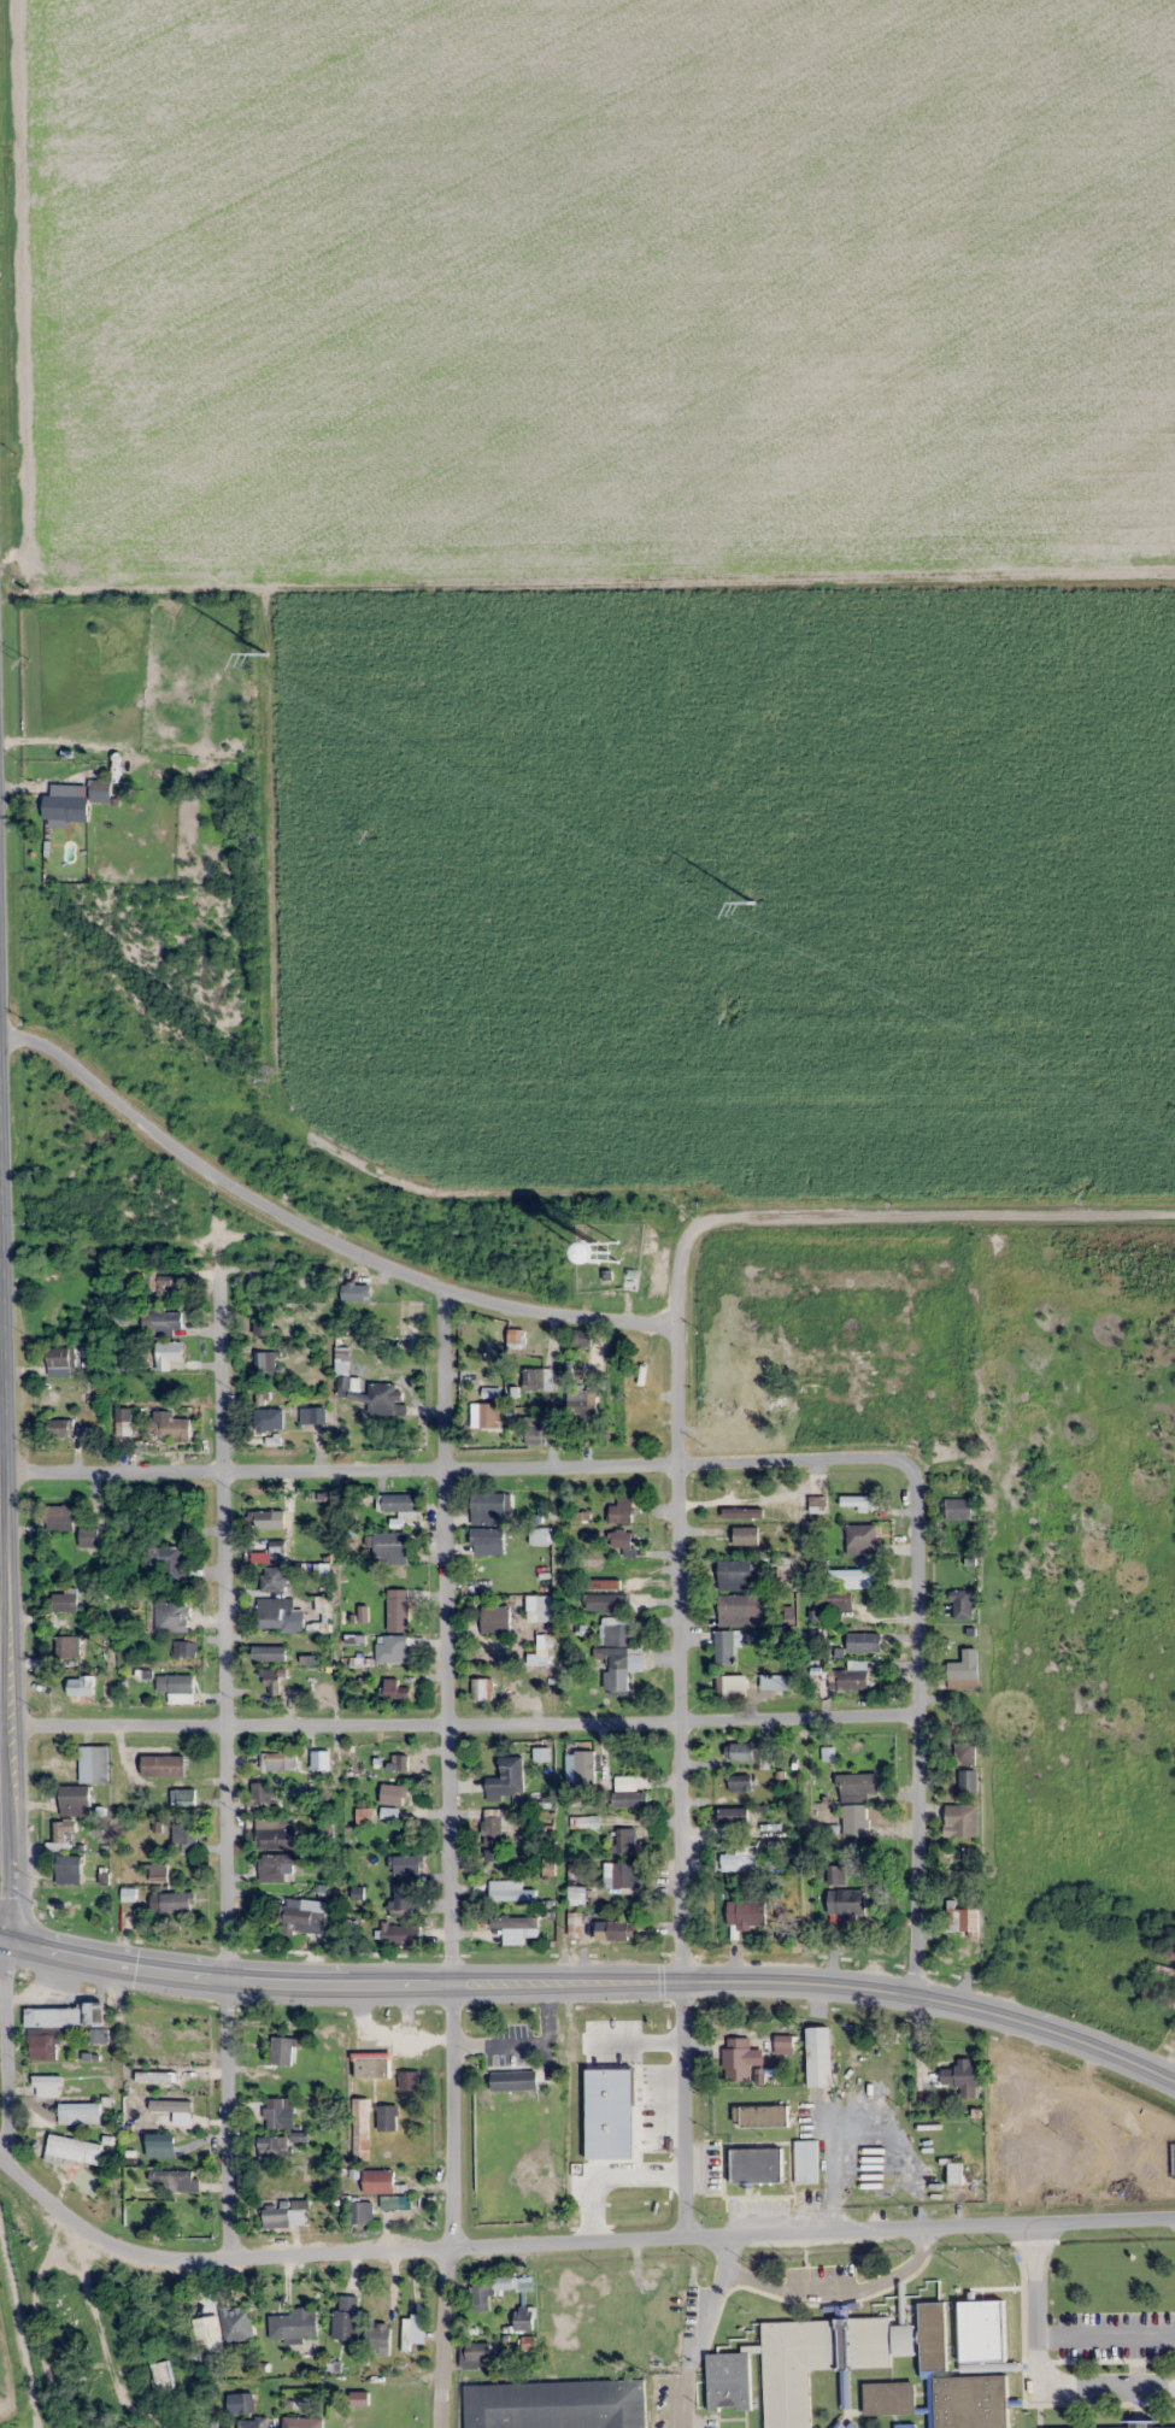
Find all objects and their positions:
power tower: (265, 653)
power tower: (23, 660)
building: (99, 790)
building: (65, 809)
power tower: (366, 835)
power tower: (752, 901)
power tower: (724, 1015)
power tower: (1082, 1194)
road: (932, 1215)
road: (315, 1233)
road: (177, 1239)
building: (609, 1258)
building: (160, 1282)
building: (356, 1293)
building: (58, 1322)
building: (160, 1323)
building: (263, 1328)
building: (581, 1338)
building: (168, 1354)
building: (60, 1362)
building: (265, 1363)
building: (535, 1381)
building: (366, 1391)
road: (581, 1391)
building: (587, 1399)
building: (770, 1406)
building: (486, 1413)
building: (311, 1416)
building: (268, 1421)
building: (123, 1422)
building: (170, 1427)
building: (639, 1427)
building: (58, 1428)
building: (534, 1436)
road: (798, 1459)
road: (343, 1470)
road: (8, 1488)
building: (856, 1500)
building: (398, 1501)
building: (817, 1504)
building: (489, 1509)
building: (957, 1509)
building: (621, 1511)
building: (59, 1517)
building: (268, 1518)
building: (746, 1535)
building: (537, 1536)
building: (88, 1538)
building: (623, 1539)
building: (860, 1539)
building: (486, 1541)
building: (389, 1547)
building: (166, 1562)
building: (734, 1575)
building: (271, 1579)
building: (845, 1588)
building: (64, 1601)
building: (605, 1601)
road: (680, 1603)
building: (963, 1604)
road: (224, 1607)
building: (396, 1610)
building: (733, 1610)
building: (275, 1612)
building: (170, 1616)
building: (495, 1619)
building: (617, 1635)
road: (446, 1639)
building: (863, 1642)
building: (66, 1646)
building: (184, 1648)
building: (392, 1648)
building: (724, 1648)
building: (268, 1652)
building: (616, 1670)
building: (964, 1670)
building: (847, 1679)
building: (271, 1681)
building: (774, 1682)
building: (81, 1686)
building: (730, 1686)
building: (176, 1687)
building: (393, 1689)
building: (480, 1689)
road: (921, 1697)
road: (466, 1724)
building: (742, 1752)
building: (964, 1753)
building: (540, 1754)
building: (277, 1759)
building: (319, 1760)
building: (399, 1762)
building: (100, 1764)
building: (183, 1770)
building: (506, 1777)
building: (739, 1781)
building: (967, 1781)
building: (856, 1786)
building: (393, 1794)
building: (74, 1795)
building: (178, 1797)
building: (262, 1797)
building: (628, 1799)
building: (732, 1816)
building: (960, 1819)
building: (853, 1821)
building: (583, 1822)
building: (64, 1830)
building: (492, 1830)
building: (325, 1832)
building: (186, 1833)
building: (275, 1834)
building: (625, 1840)
building: (490, 1854)
building: (738, 1860)
building: (409, 1865)
building: (276, 1868)
building: (67, 1869)
building: (157, 1873)
building: (621, 1875)
building: (835, 1875)
building: (511, 1892)
building: (576, 1895)
building: (71, 1897)
building: (401, 1897)
building: (172, 1901)
building: (846, 1903)
building: (746, 1913)
building: (301, 1916)
building: (962, 1921)
building: (516, 1928)
building: (615, 1929)
building: (398, 1934)
road: (110, 1962)
road: (822, 1981)
road: (339, 1983)
building: (1152, 1995)
building: (94, 2012)
building: (53, 2017)
building: (178, 2042)
building: (43, 2046)
road: (5, 2051)
building: (281, 2051)
building: (818, 2057)
building: (738, 2060)
building: (371, 2065)
building: (609, 2068)
building: (962, 2074)
building: (409, 2080)
building: (512, 2081)
building: (46, 2086)
road: (683, 2107)
building: (278, 2114)
building: (759, 2116)
building: (386, 2117)
road: (225, 2118)
building: (359, 2129)
building: (272, 2148)
building: (184, 2154)
building: (1173, 2160)
building: (805, 2162)
building: (756, 2164)
building: (1083, 2165)
building: (954, 2173)
building: (174, 2180)
building: (381, 2186)
road: (451, 2209)
building: (360, 2212)
building: (284, 2214)
building: (188, 2220)
road: (811, 2232)
road: (208, 2259)
building: (501, 2281)
building: (481, 2294)
building: (525, 2317)
building: (346, 2321)
building: (236, 2323)
building: (293, 2324)
building: (207, 2338)
building: (377, 2338)
building: (903, 2340)
building: (527, 2342)
building: (475, 2354)
building: (815, 2361)
building: (161, 2376)
building: (728, 2381)
building: (957, 2385)
building: (245, 2403)
building: (556, 2405)
building: (294, 2422)
building: (249, 2423)
building: (905, 2427)

